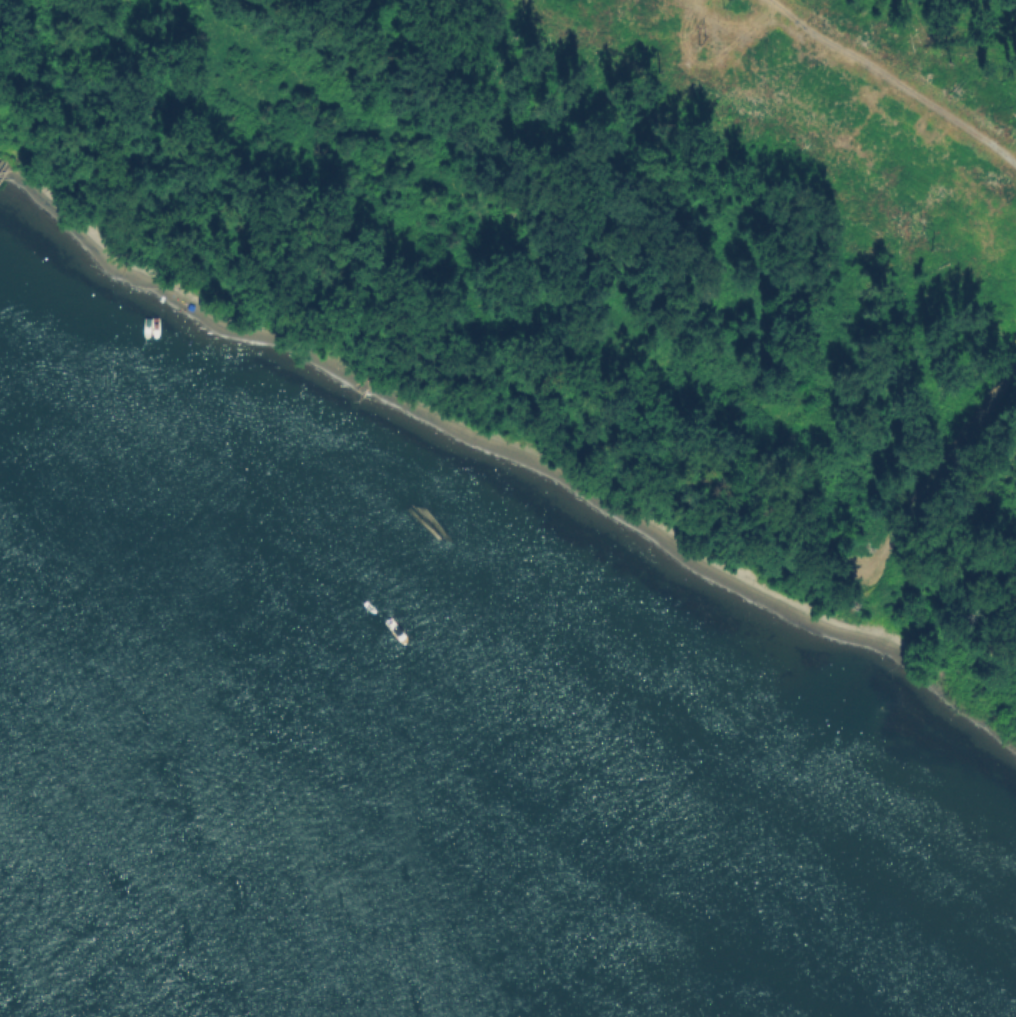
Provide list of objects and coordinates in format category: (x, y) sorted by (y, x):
road: (894, 79)
river: (163, 922)

